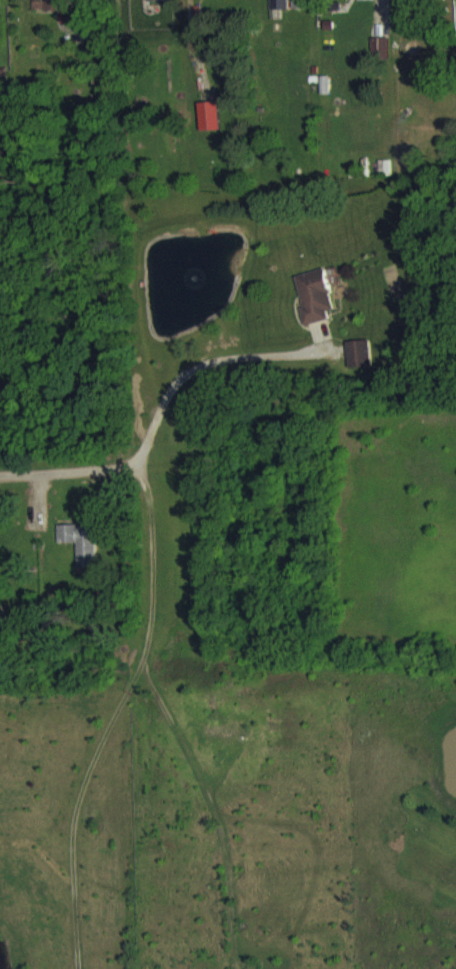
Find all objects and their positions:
building: (206, 0)
building: (440, 2)
building: (154, 5)
building: (364, 5)
building: (47, 9)
building: (278, 10)
building: (299, 10)
building: (379, 59)
building: (209, 127)
building: (314, 307)
road: (199, 363)
building: (359, 365)
road: (63, 470)
building: (81, 553)

